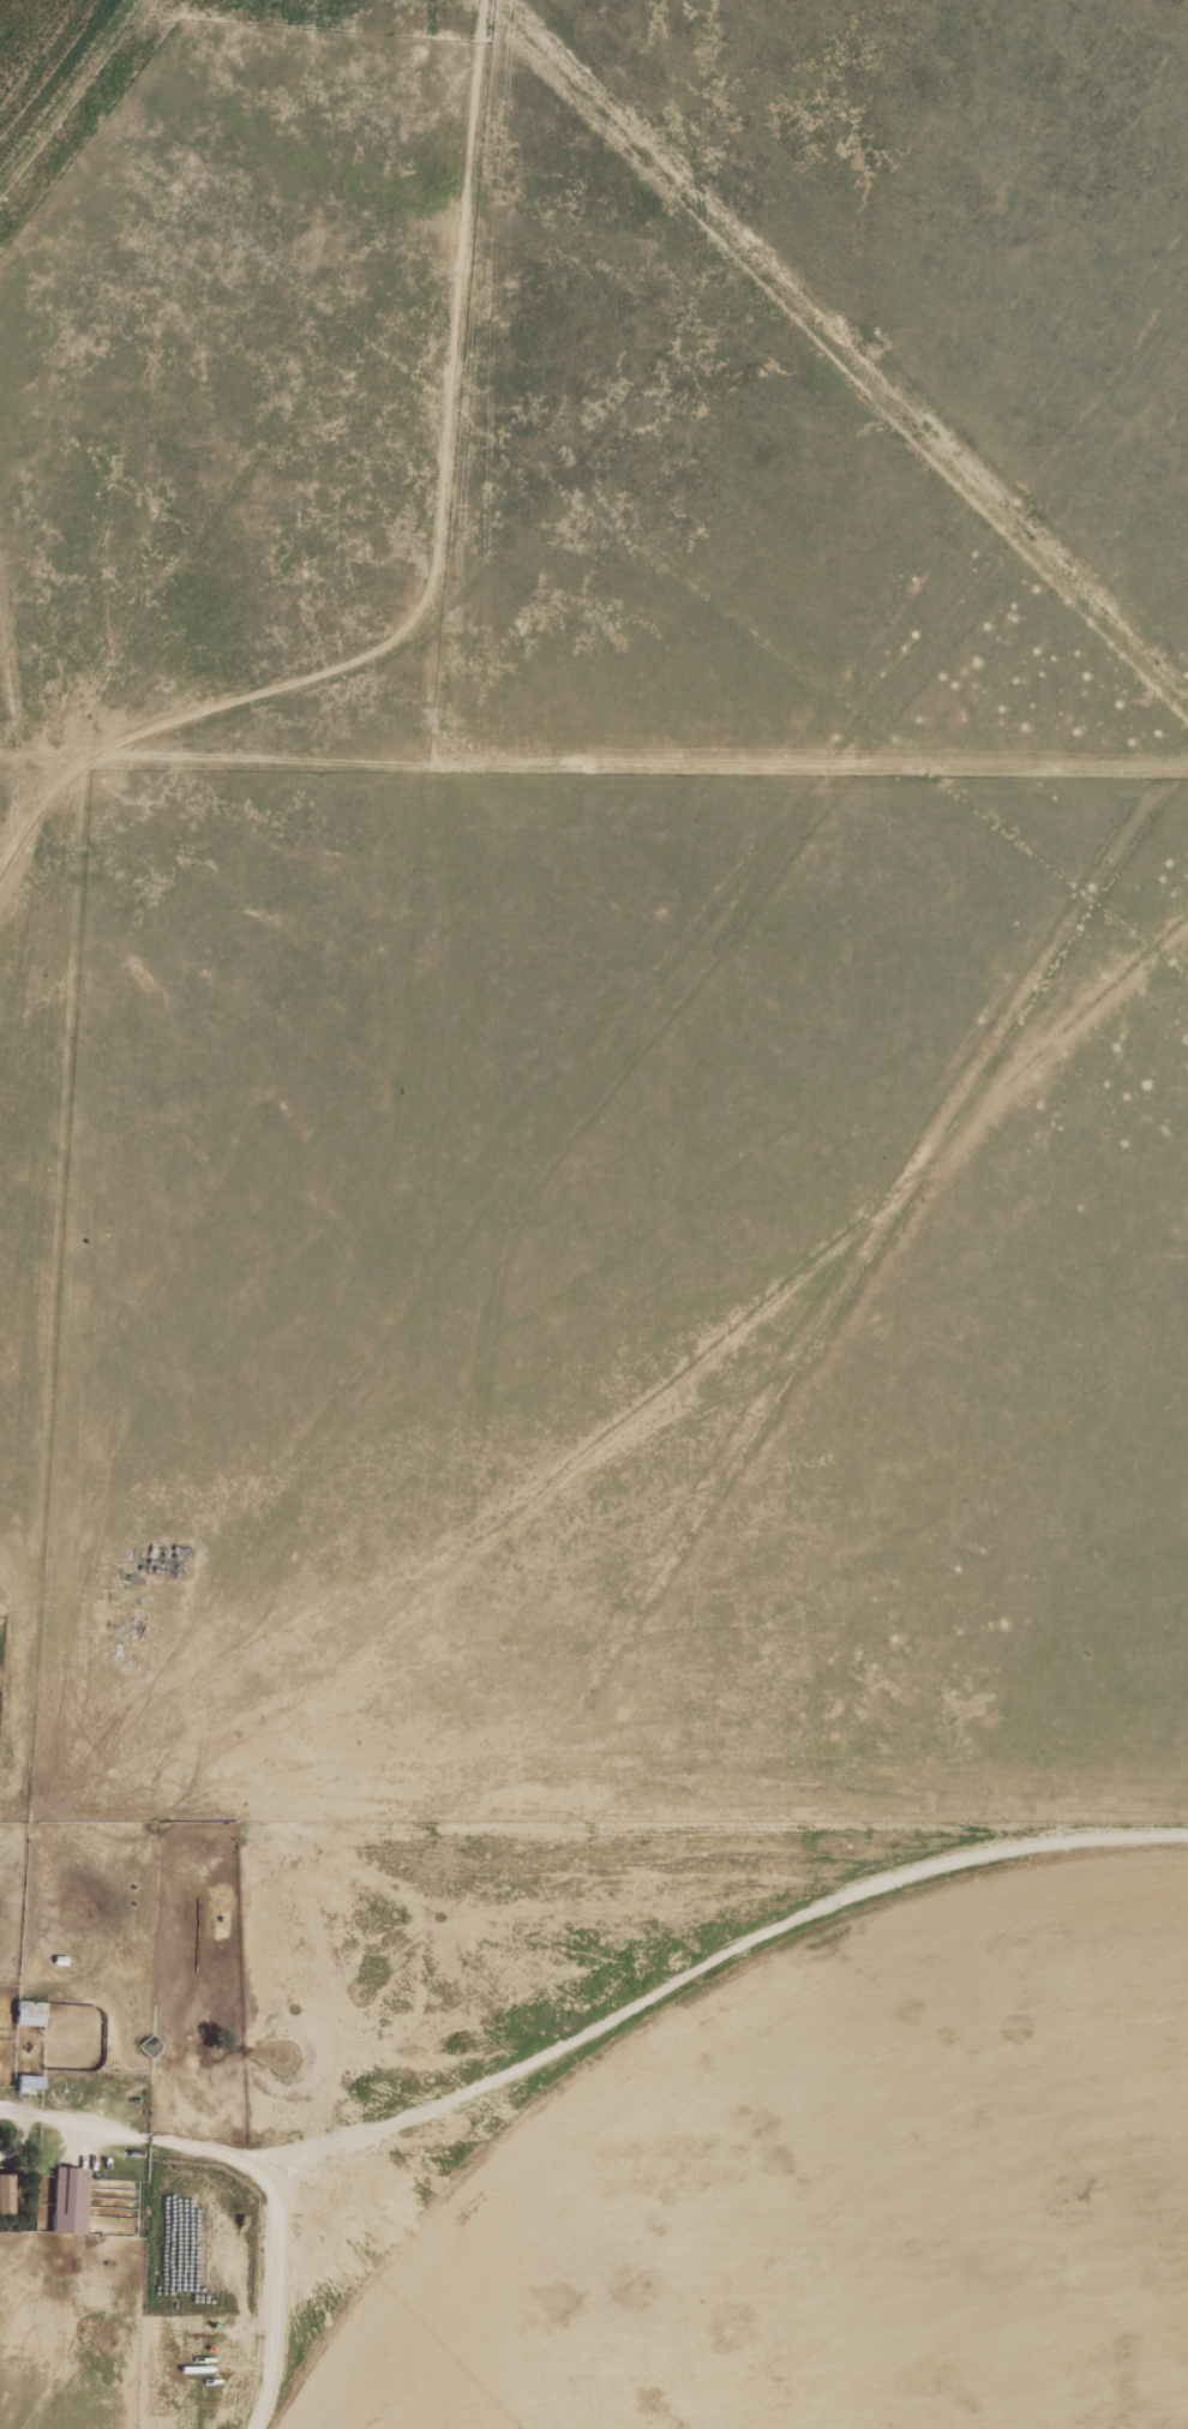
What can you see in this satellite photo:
crop: (24, 28)
road: (289, 2152)
crop: (863, 2220)

